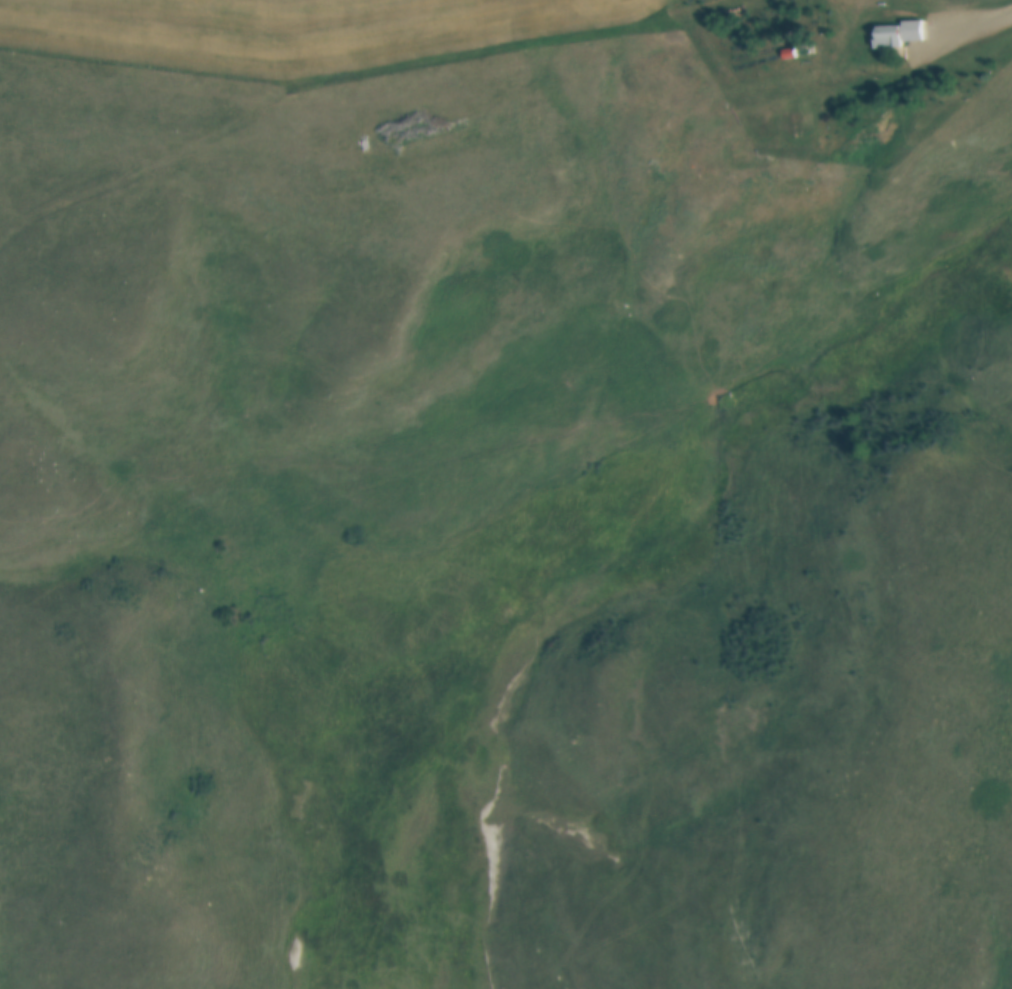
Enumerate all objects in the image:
road: (976, 27)
building: (914, 30)
building: (794, 125)

